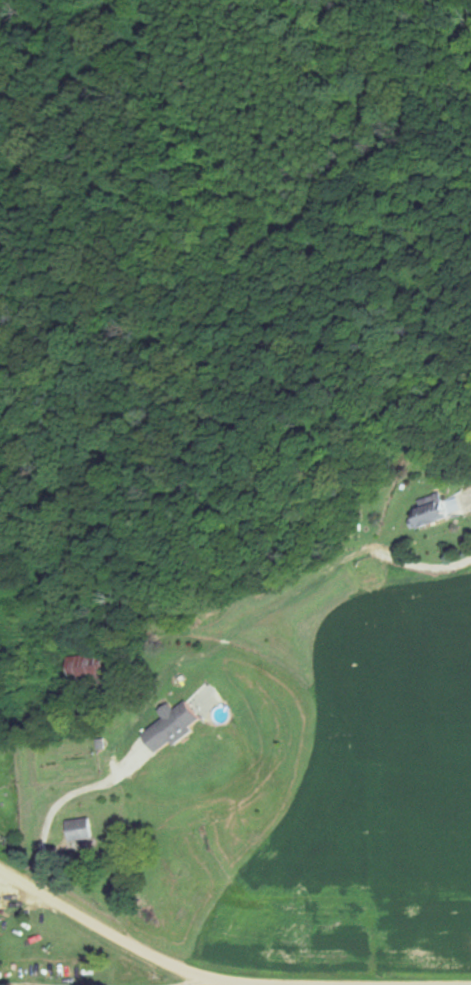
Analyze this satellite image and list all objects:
building: (431, 510)
building: (89, 668)
building: (173, 725)
building: (79, 829)
road: (220, 979)

